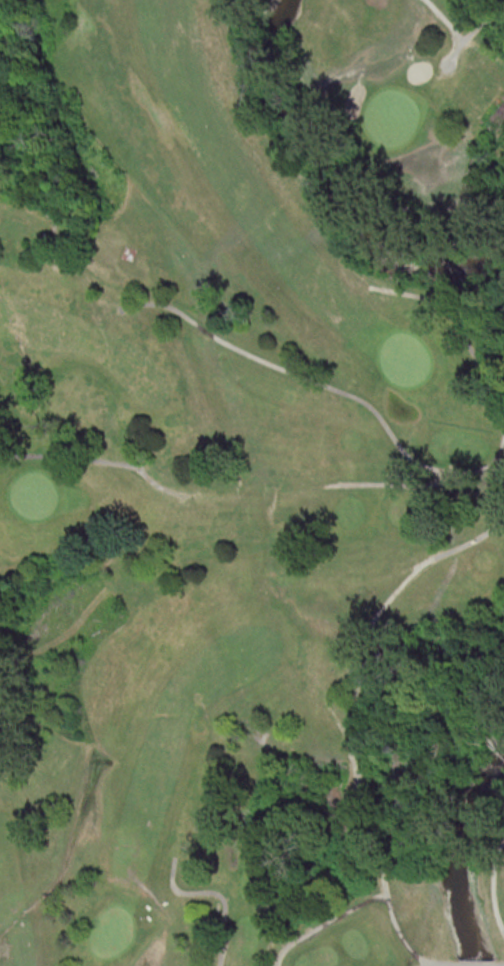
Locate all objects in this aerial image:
river: (344, 180)
park: (252, 483)
river: (459, 858)

